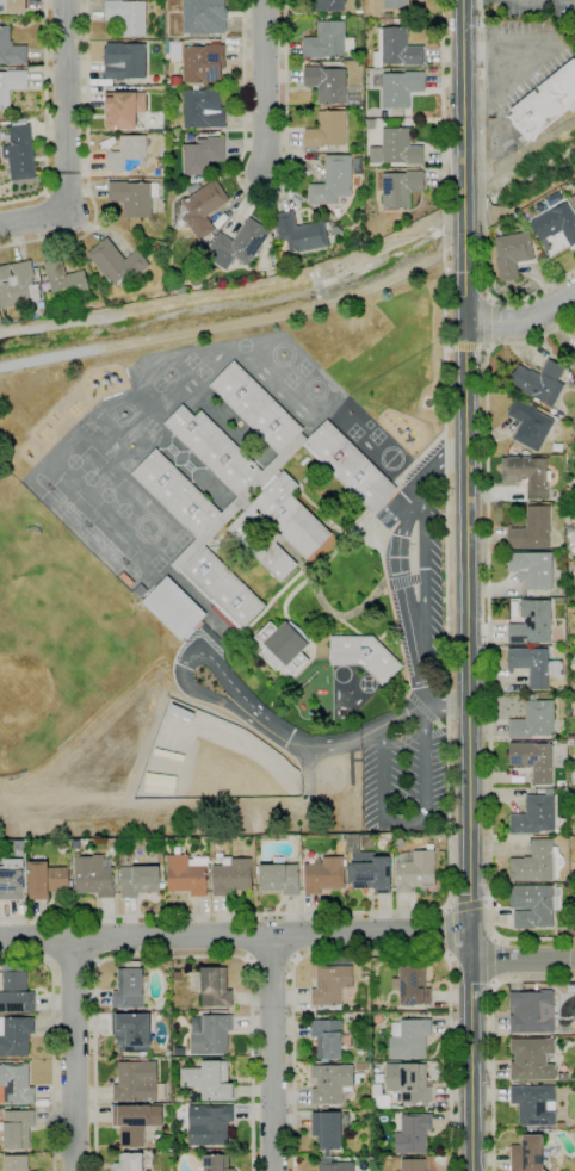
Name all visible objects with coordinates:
building: (395, 4)
building: (13, 5)
building: (329, 6)
building: (128, 16)
building: (203, 17)
road: (246, 23)
building: (324, 41)
road: (280, 45)
building: (11, 49)
building: (396, 49)
building: (174, 50)
road: (246, 50)
road: (490, 50)
building: (124, 61)
building: (203, 63)
road: (282, 76)
building: (174, 80)
building: (326, 83)
building: (11, 86)
road: (264, 87)
building: (401, 88)
building: (545, 103)
building: (124, 109)
building: (203, 109)
road: (247, 116)
road: (44, 118)
building: (396, 120)
building: (326, 130)
road: (282, 138)
road: (64, 140)
road: (247, 145)
building: (400, 147)
road: (482, 149)
building: (19, 153)
building: (203, 155)
building: (128, 156)
road: (87, 162)
road: (290, 175)
building: (333, 180)
building: (398, 187)
road: (274, 190)
building: (134, 197)
road: (265, 198)
road: (247, 200)
building: (573, 200)
building: (204, 207)
road: (443, 222)
building: (556, 224)
building: (336, 230)
building: (301, 233)
building: (237, 244)
building: (157, 248)
building: (512, 254)
building: (192, 259)
building: (117, 262)
building: (64, 281)
building: (18, 285)
road: (533, 293)
road: (465, 298)
road: (523, 318)
building: (0, 321)
road: (237, 322)
road: (487, 322)
road: (466, 346)
building: (574, 361)
building: (539, 382)
building: (255, 407)
building: (558, 415)
building: (530, 425)
building: (214, 448)
road: (445, 459)
building: (350, 466)
building: (527, 475)
building: (177, 492)
building: (240, 501)
building: (278, 527)
building: (531, 529)
road: (345, 533)
building: (532, 569)
road: (425, 574)
building: (125, 580)
road: (403, 584)
road: (468, 584)
building: (222, 588)
building: (141, 590)
road: (276, 596)
building: (571, 602)
road: (323, 605)
building: (174, 608)
building: (532, 624)
road: (348, 625)
road: (396, 626)
road: (387, 631)
road: (488, 634)
building: (574, 642)
building: (283, 646)
building: (364, 656)
road: (181, 662)
building: (533, 665)
building: (533, 720)
road: (326, 745)
building: (532, 760)
building: (534, 816)
road: (418, 822)
building: (366, 841)
building: (353, 842)
building: (398, 843)
building: (76, 844)
building: (70, 857)
building: (537, 863)
building: (415, 870)
building: (371, 872)
building: (186, 875)
building: (231, 875)
building: (323, 875)
building: (93, 876)
building: (279, 878)
building: (12, 880)
building: (47, 880)
building: (140, 880)
road: (470, 904)
building: (533, 905)
road: (439, 909)
road: (445, 933)
road: (236, 936)
road: (371, 955)
road: (174, 956)
road: (491, 956)
road: (272, 960)
road: (521, 960)
road: (72, 964)
building: (329, 984)
building: (413, 985)
building: (130, 986)
building: (215, 987)
building: (14, 993)
building: (532, 1012)
building: (339, 1016)
building: (132, 1031)
building: (210, 1034)
road: (486, 1034)
building: (16, 1035)
building: (330, 1039)
building: (409, 1039)
road: (52, 1042)
road: (271, 1053)
road: (74, 1055)
building: (531, 1059)
building: (361, 1066)
building: (562, 1077)
building: (209, 1080)
building: (137, 1082)
building: (330, 1083)
building: (409, 1084)
building: (524, 1084)
building: (16, 1085)
building: (180, 1096)
building: (381, 1101)
building: (534, 1104)
building: (135, 1123)
building: (175, 1124)
building: (209, 1124)
building: (18, 1129)
building: (330, 1129)
building: (413, 1134)
building: (527, 1153)
building: (396, 1159)
building: (129, 1161)
building: (16, 1163)
building: (216, 1163)
building: (334, 1165)
building: (413, 1165)

